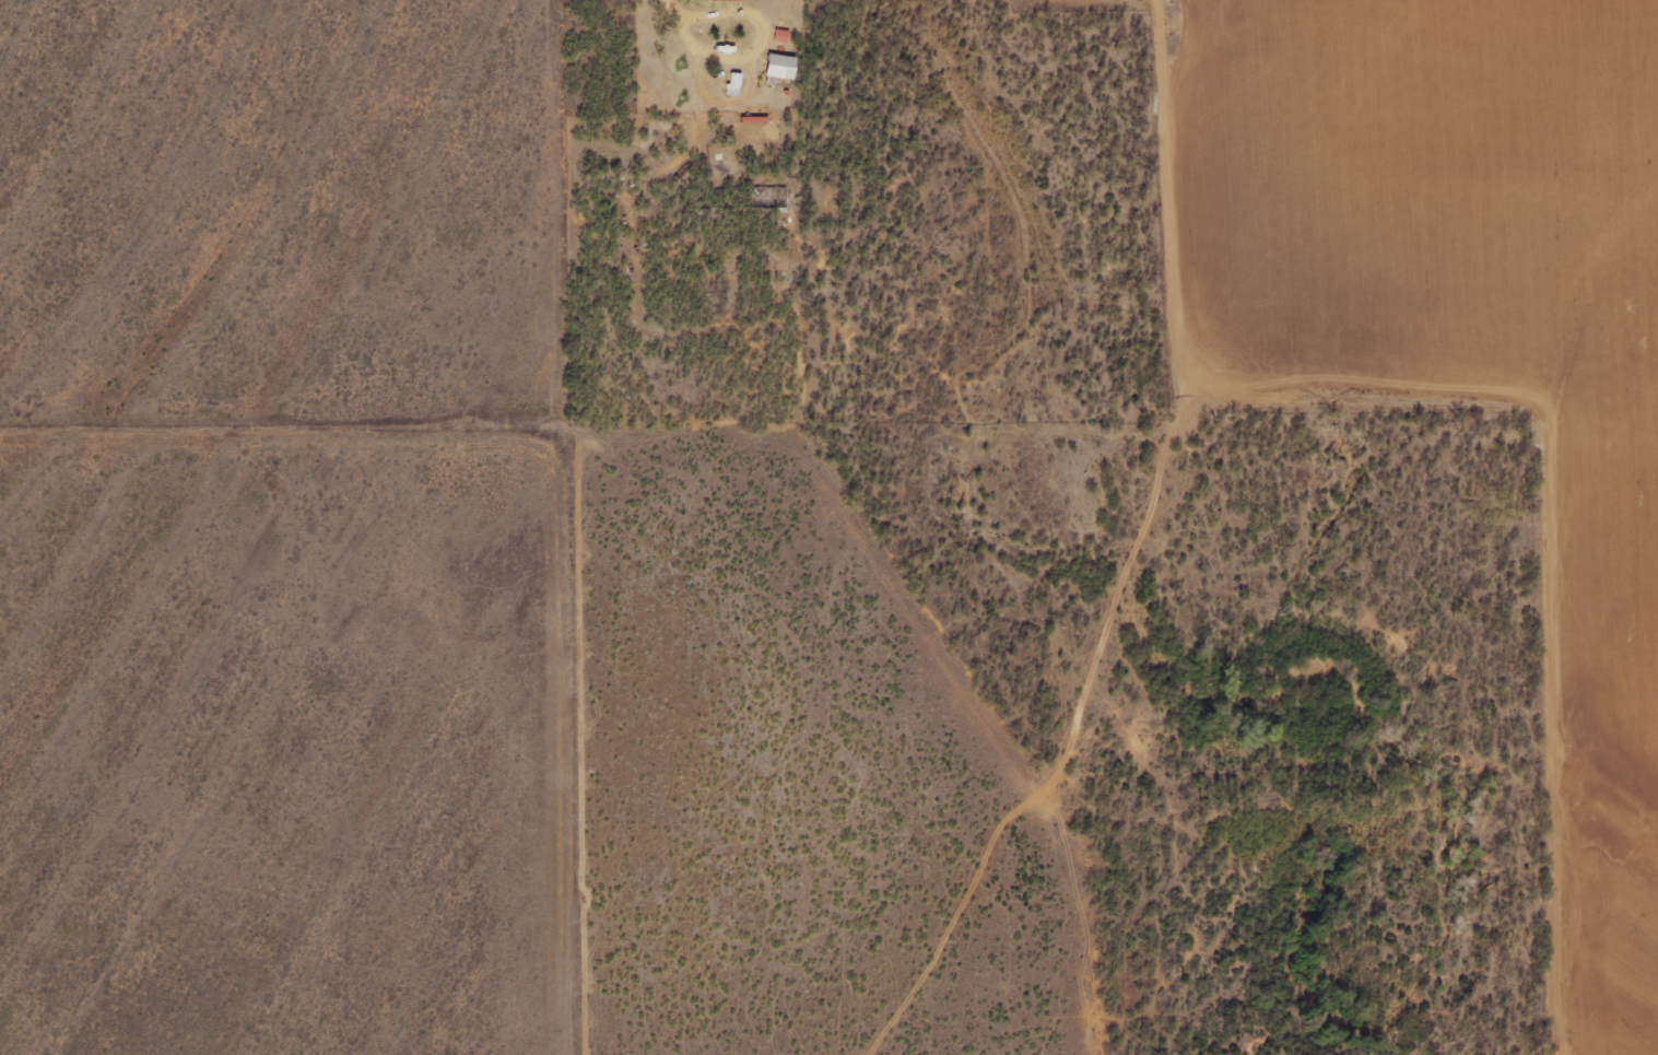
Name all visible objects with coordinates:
building: (784, 66)

